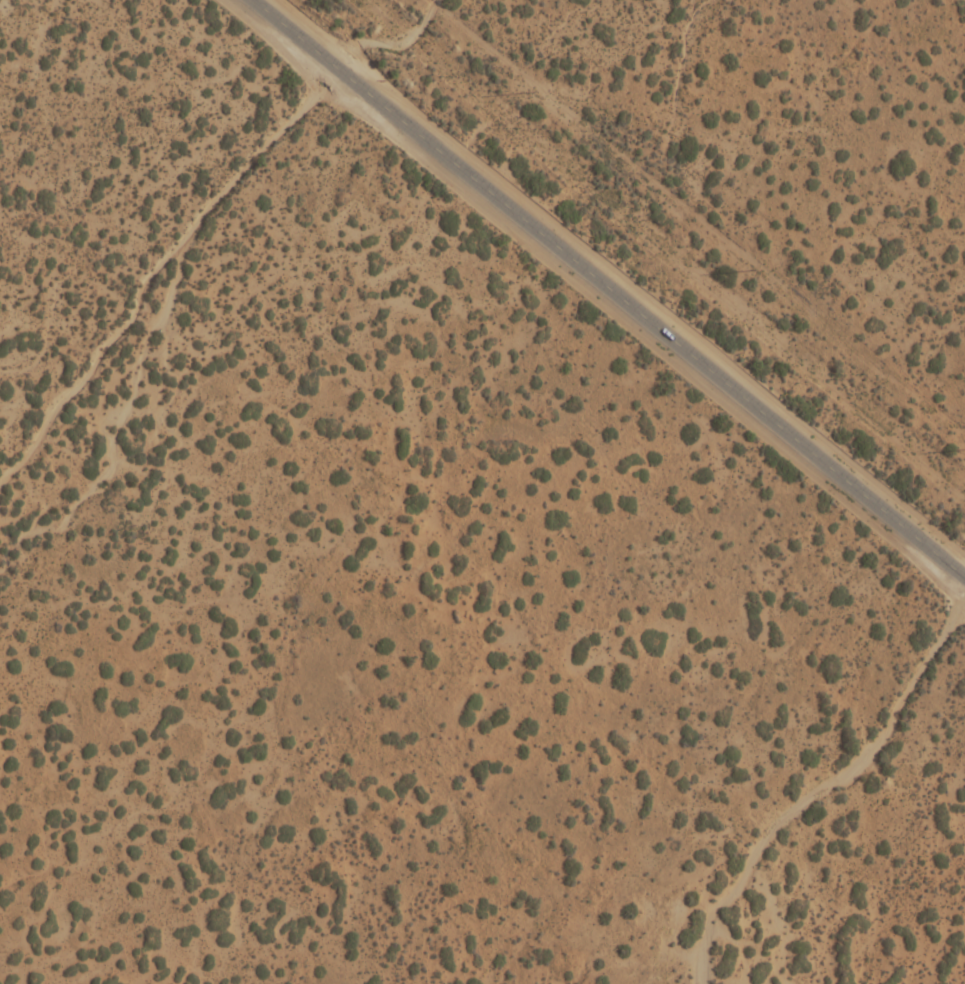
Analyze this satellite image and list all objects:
road: (608, 288)

